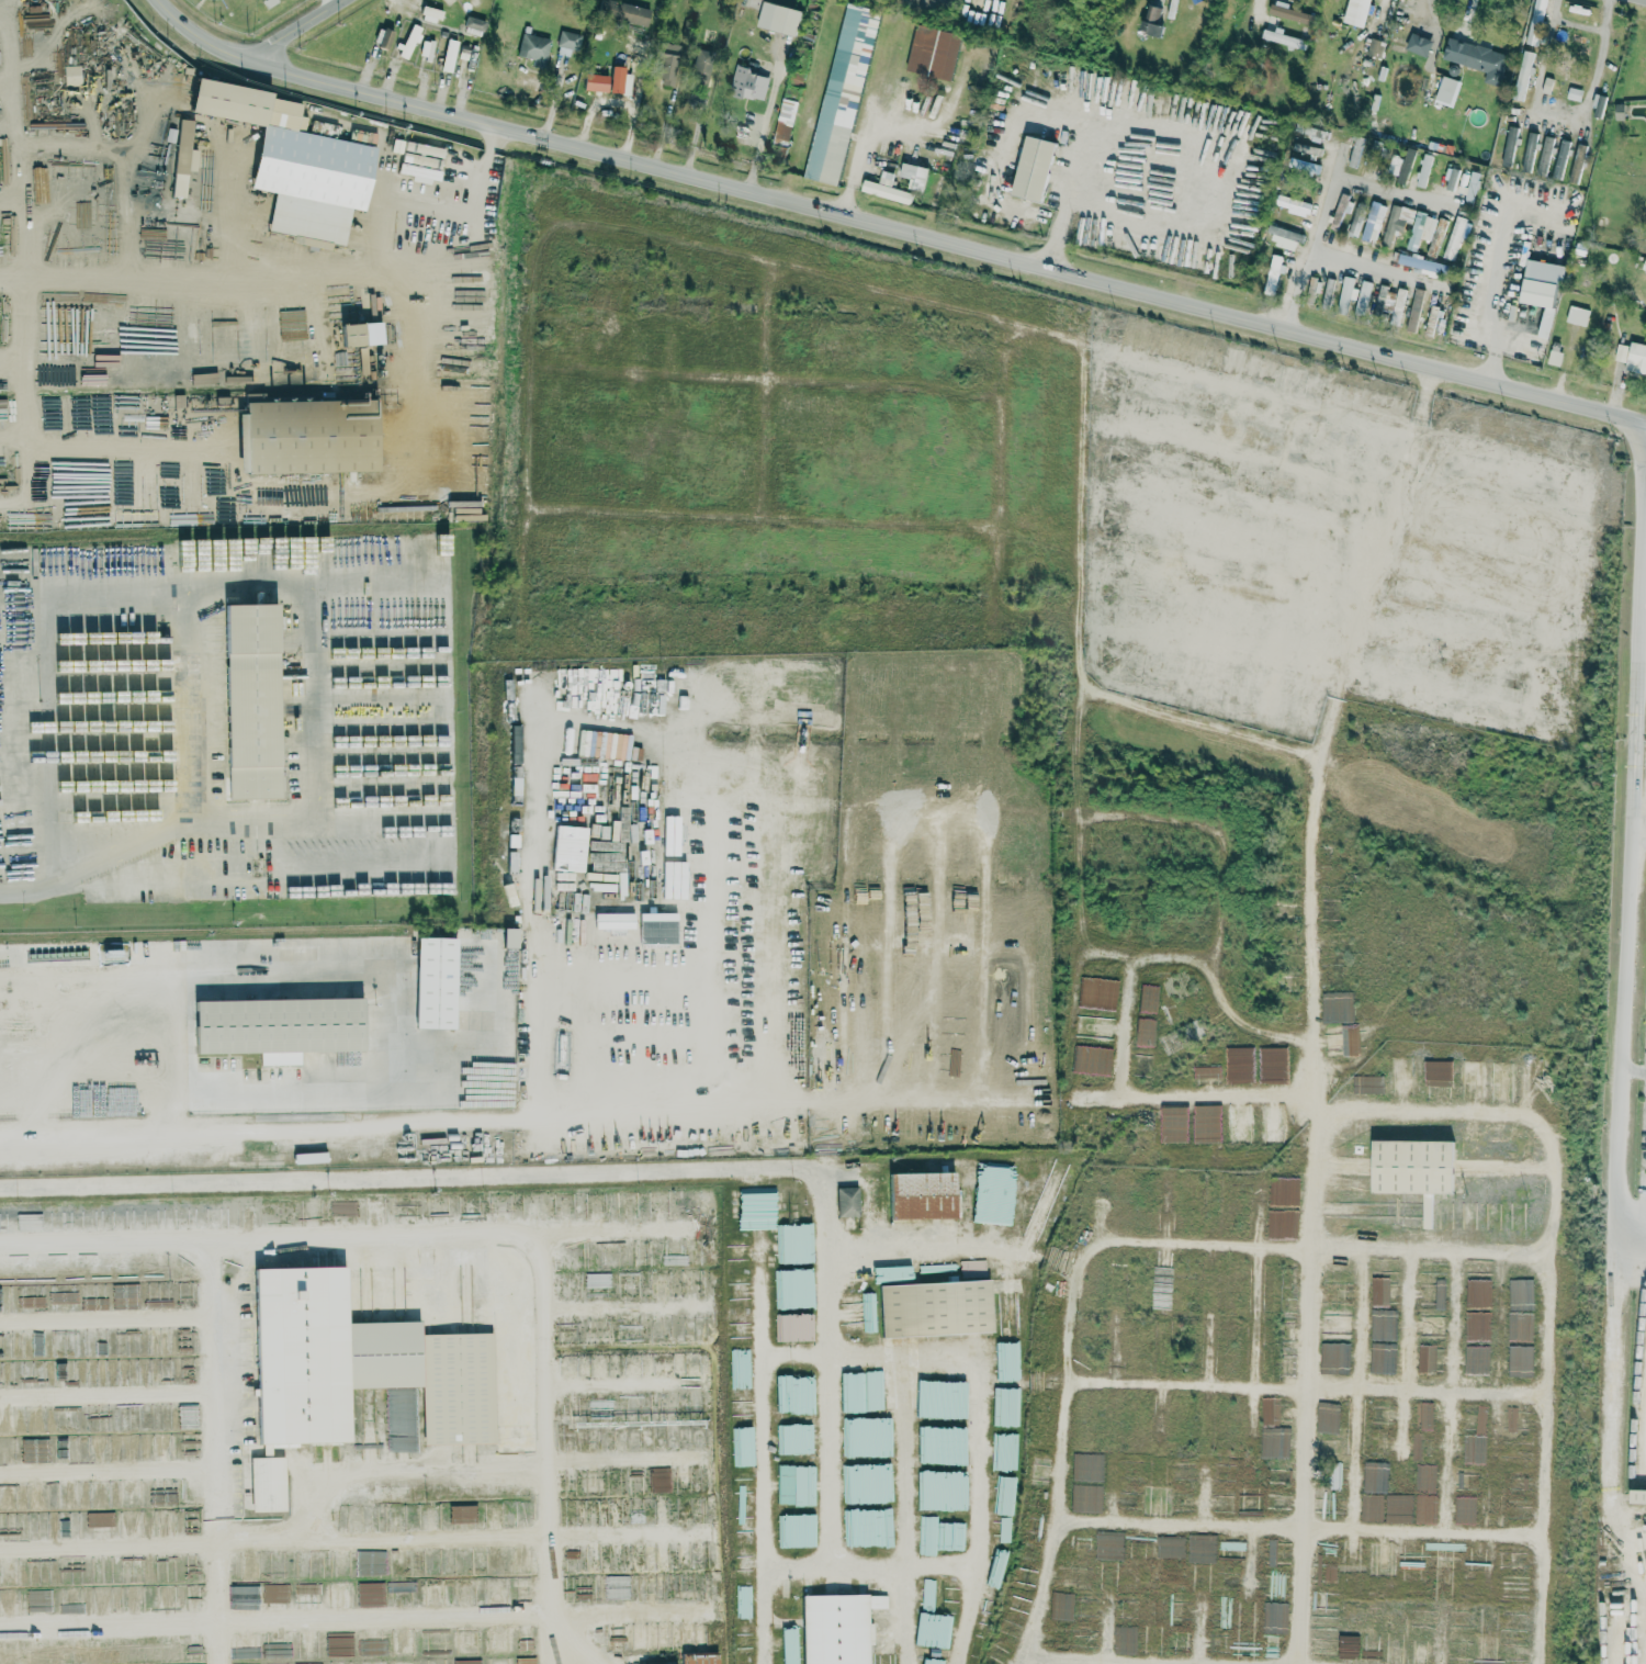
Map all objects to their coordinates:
building: (208, 0)
road: (330, 5)
building: (622, 12)
building: (1356, 12)
building: (431, 13)
building: (1290, 13)
building: (1152, 14)
building: (778, 18)
road: (1432, 19)
building: (1535, 21)
building: (474, 24)
road: (1579, 24)
road: (305, 31)
building: (1154, 31)
building: (1282, 38)
building: (567, 43)
building: (1418, 45)
building: (426, 48)
building: (533, 48)
building: (933, 52)
building: (449, 55)
building: (1477, 59)
building: (665, 60)
building: (700, 68)
building: (1566, 70)
building: (72, 75)
building: (1523, 75)
building: (605, 80)
building: (748, 83)
building: (1546, 85)
building: (1445, 90)
building: (842, 93)
building: (1574, 93)
building: (1598, 104)
road: (635, 106)
building: (1619, 111)
road: (1564, 115)
building: (783, 121)
road: (19, 143)
building: (1509, 145)
building: (1529, 150)
building: (1545, 154)
building: (182, 157)
building: (293, 160)
building: (1559, 161)
building: (1577, 162)
building: (1398, 166)
building: (1033, 167)
building: (1423, 170)
building: (914, 175)
building: (886, 188)
road: (1330, 193)
road: (1071, 201)
building: (1294, 204)
building: (1340, 211)
road: (474, 213)
building: (1396, 221)
building: (1355, 223)
road: (895, 227)
building: (1421, 229)
building: (1284, 237)
road: (1371, 266)
road: (319, 268)
building: (1273, 274)
road: (1502, 280)
building: (1541, 289)
building: (1345, 294)
building: (1363, 295)
building: (1382, 296)
building: (1414, 310)
building: (1577, 315)
road: (26, 316)
building: (349, 334)
road: (1070, 342)
road: (13, 355)
building: (1554, 357)
building: (1636, 358)
road: (768, 380)
building: (2, 405)
road: (530, 425)
road: (29, 431)
road: (108, 431)
building: (309, 436)
road: (767, 440)
road: (1643, 440)
road: (1645, 461)
road: (1000, 481)
road: (1342, 485)
road: (229, 501)
road: (15, 510)
road: (763, 518)
road: (1341, 553)
road: (238, 580)
road: (1341, 621)
road: (37, 665)
road: (1335, 686)
road: (1095, 697)
building: (251, 701)
road: (44, 810)
road: (1003, 813)
road: (241, 821)
building: (568, 848)
road: (430, 869)
road: (991, 879)
road: (27, 892)
road: (754, 893)
building: (1330, 909)
road: (531, 929)
building: (508, 937)
road: (873, 951)
road: (362, 976)
building: (435, 982)
building: (1098, 993)
building: (1645, 996)
building: (1147, 998)
building: (277, 1027)
road: (1125, 1028)
road: (1319, 1041)
building: (1091, 1059)
road: (1627, 1063)
road: (1636, 1070)
building: (1205, 1073)
road: (1239, 1108)
road: (692, 1114)
building: (1215, 1120)
building: (1238, 1122)
building: (1271, 1122)
road: (24, 1136)
building: (1411, 1167)
road: (615, 1174)
building: (923, 1195)
building: (993, 1195)
building: (1044, 1198)
building: (847, 1201)
road: (1635, 1211)
road: (358, 1236)
road: (1205, 1247)
road: (957, 1250)
building: (736, 1251)
building: (790, 1251)
road: (1432, 1251)
road: (1547, 1280)
building: (739, 1290)
building: (935, 1308)
road: (357, 1314)
building: (1520, 1326)
building: (740, 1330)
building: (1385, 1353)
building: (356, 1364)
building: (741, 1369)
road: (1071, 1379)
road: (1308, 1383)
road: (635, 1384)
road: (108, 1397)
road: (979, 1404)
building: (741, 1407)
road: (765, 1417)
building: (1327, 1418)
building: (742, 1447)
road: (548, 1448)
road: (218, 1451)
road: (359, 1469)
building: (267, 1484)
building: (742, 1487)
building: (1637, 1497)
road: (911, 1510)
building: (462, 1514)
building: (743, 1526)
building: (796, 1530)
road: (360, 1541)
building: (744, 1563)
road: (876, 1570)
building: (370, 1594)
building: (339, 1596)
building: (744, 1601)
building: (1174, 1608)
road: (360, 1619)
building: (837, 1628)
road: (579, 1639)
building: (744, 1640)
building: (698, 1659)
building: (467, 1662)
building: (932, 1662)
road: (1078, 1662)

